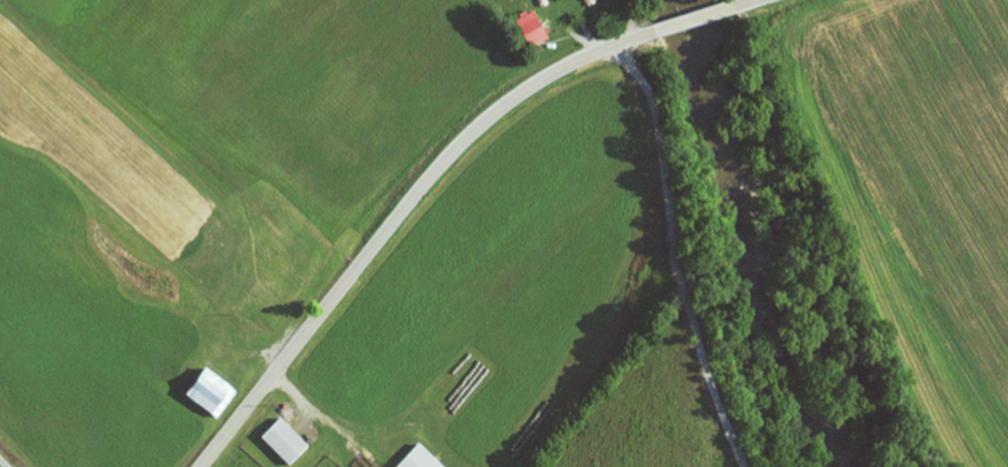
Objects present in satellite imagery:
road: (742, 3)
road: (692, 19)
building: (531, 30)
road: (398, 215)
river: (757, 236)
road: (671, 255)
building: (210, 392)
building: (284, 441)
building: (419, 458)
road: (5, 461)

